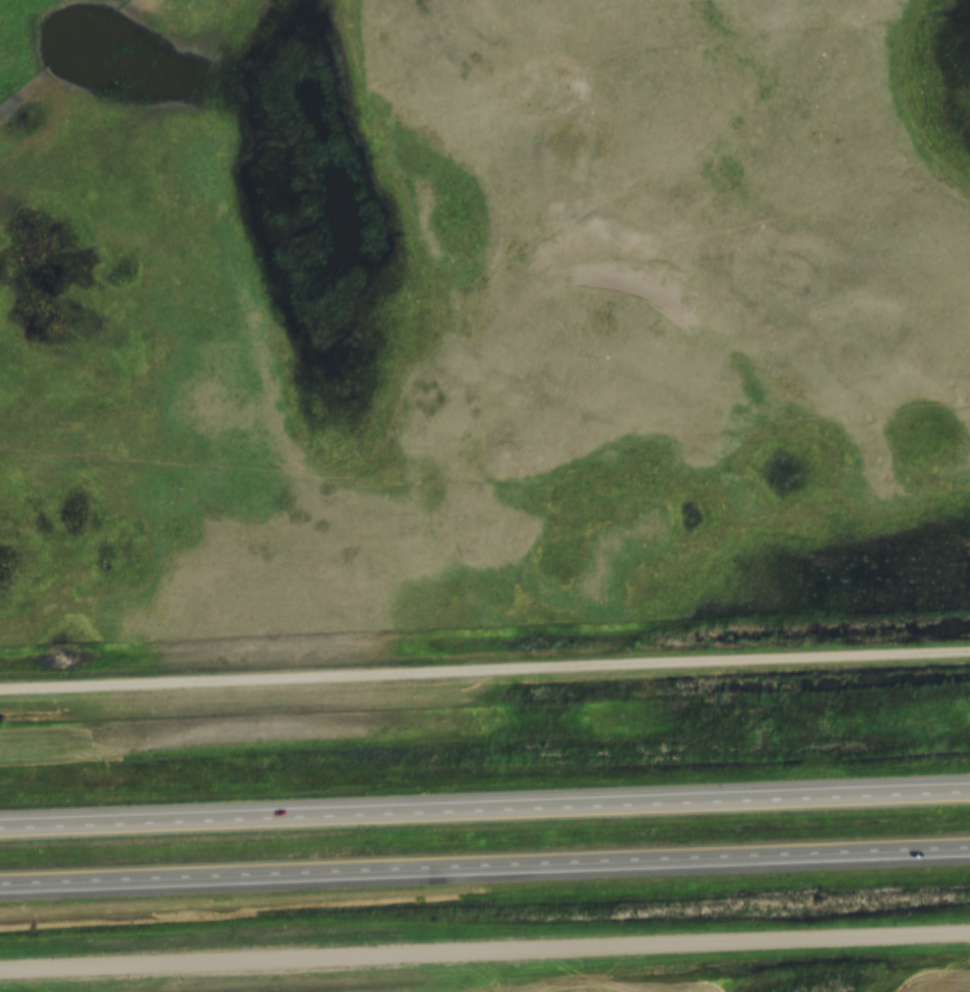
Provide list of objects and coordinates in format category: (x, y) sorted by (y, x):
road: (485, 673)
road: (485, 813)
road: (484, 866)
road: (485, 954)

